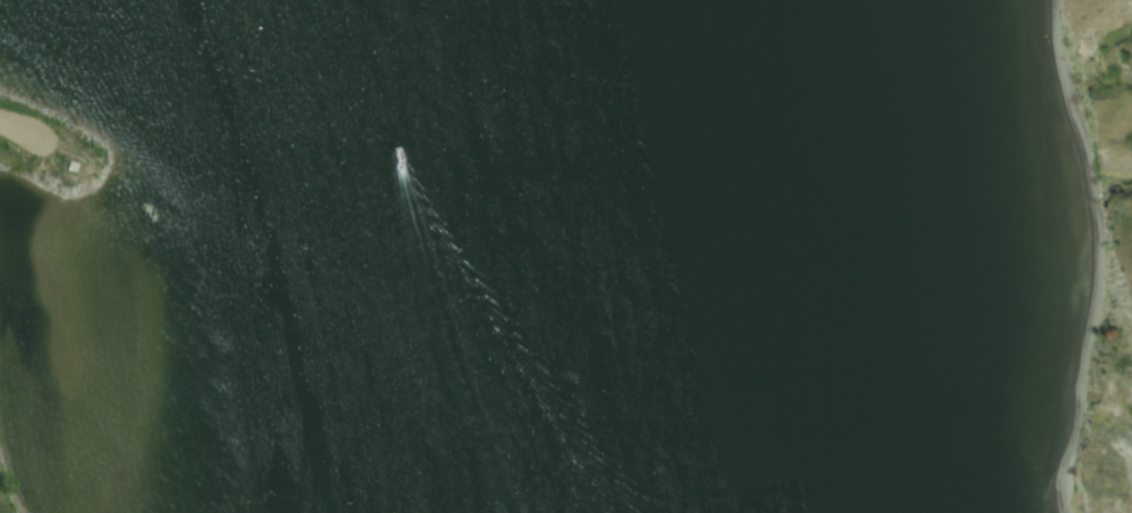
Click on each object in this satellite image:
river: (344, 256)

